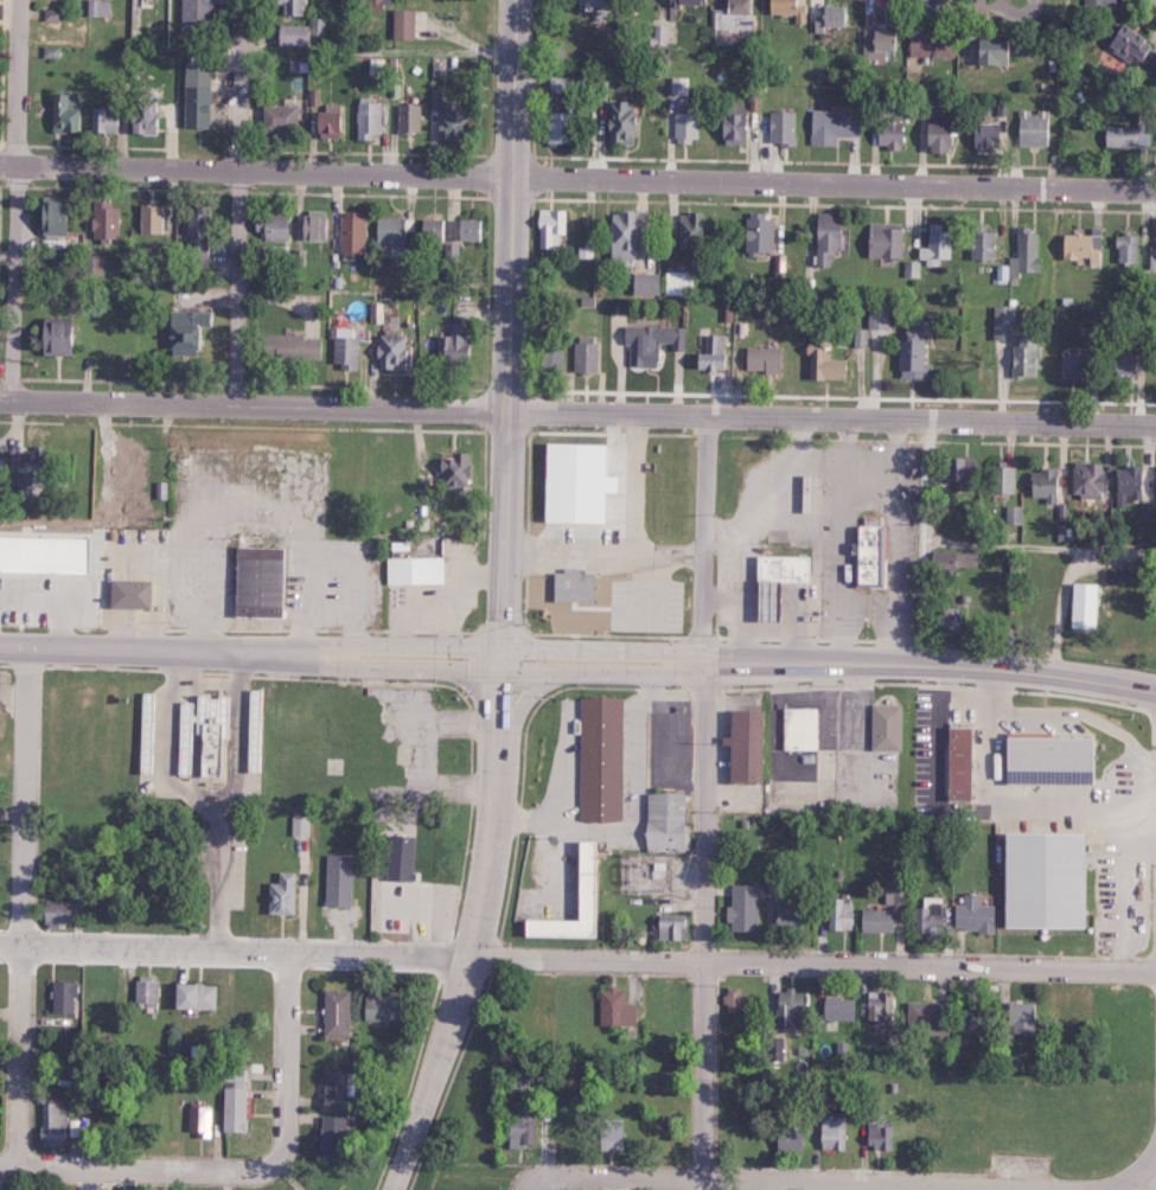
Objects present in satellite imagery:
building: (686, 1)
building: (1099, 2)
building: (373, 5)
building: (583, 5)
building: (287, 6)
building: (96, 7)
building: (194, 9)
building: (787, 9)
building: (50, 14)
building: (830, 17)
building: (733, 23)
building: (402, 24)
building: (300, 32)
building: (658, 33)
building: (874, 44)
building: (930, 44)
building: (1132, 49)
building: (986, 51)
road: (17, 81)
building: (558, 83)
building: (193, 95)
building: (63, 113)
building: (139, 116)
building: (277, 117)
building: (408, 117)
building: (446, 117)
building: (368, 119)
building: (101, 120)
building: (326, 121)
building: (619, 121)
building: (732, 124)
building: (831, 124)
building: (554, 127)
building: (685, 127)
building: (780, 127)
building: (1033, 128)
building: (934, 136)
building: (984, 136)
building: (1120, 136)
road: (577, 177)
road: (236, 203)
building: (47, 216)
building: (149, 218)
building: (103, 220)
building: (312, 225)
building: (270, 228)
building: (549, 228)
building: (430, 229)
building: (388, 230)
building: (467, 230)
building: (690, 230)
building: (350, 231)
building: (756, 232)
building: (619, 235)
building: (194, 236)
building: (824, 237)
building: (882, 239)
building: (981, 243)
building: (934, 244)
building: (1080, 245)
building: (1126, 248)
building: (1152, 257)
building: (90, 265)
building: (912, 268)
road: (13, 281)
building: (677, 282)
building: (643, 283)
building: (877, 318)
building: (1002, 322)
road: (506, 328)
building: (184, 331)
building: (53, 337)
building: (860, 338)
building: (649, 341)
building: (449, 345)
building: (289, 347)
building: (343, 347)
building: (909, 353)
building: (582, 354)
building: (709, 354)
building: (550, 357)
building: (1022, 357)
building: (760, 359)
building: (823, 363)
building: (1120, 363)
building: (1073, 365)
road: (577, 412)
building: (452, 472)
building: (959, 472)
building: (999, 478)
building: (1085, 479)
building: (573, 481)
building: (1043, 484)
building: (1128, 485)
building: (1155, 488)
building: (1013, 514)
road: (927, 542)
road: (1042, 544)
building: (44, 552)
building: (866, 554)
building: (950, 562)
building: (778, 569)
building: (409, 570)
building: (255, 581)
building: (570, 584)
building: (126, 596)
parking lot: (641, 601)
building: (762, 601)
building: (1084, 606)
building: (949, 619)
road: (249, 657)
road: (829, 663)
building: (883, 727)
building: (799, 728)
building: (741, 746)
building: (209, 748)
building: (1043, 756)
building: (596, 759)
building: (184, 760)
building: (954, 761)
road: (702, 798)
road: (205, 805)
building: (659, 823)
building: (300, 825)
building: (398, 857)
road: (217, 877)
building: (582, 878)
building: (338, 879)
building: (1042, 882)
building: (280, 894)
building: (893, 895)
road: (21, 907)
building: (741, 908)
building: (55, 911)
building: (784, 911)
building: (838, 914)
building: (927, 914)
building: (972, 914)
building: (874, 920)
building: (670, 926)
road: (477, 930)
road: (577, 960)
building: (143, 989)
building: (192, 994)
building: (60, 996)
building: (734, 999)
building: (877, 1005)
building: (383, 1006)
building: (614, 1007)
building: (788, 1007)
building: (837, 1007)
building: (334, 1012)
building: (925, 1017)
building: (1020, 1018)
building: (965, 1019)
building: (773, 1048)
building: (332, 1088)
building: (232, 1100)
building: (203, 1121)
building: (52, 1125)
building: (520, 1127)
building: (831, 1131)
building: (611, 1133)
building: (877, 1134)
building: (331, 1137)
building: (786, 1138)
road: (287, 1139)
road: (58, 1165)
road: (1138, 1170)
road: (772, 1183)
road: (698, 1185)
road: (1110, 1188)

